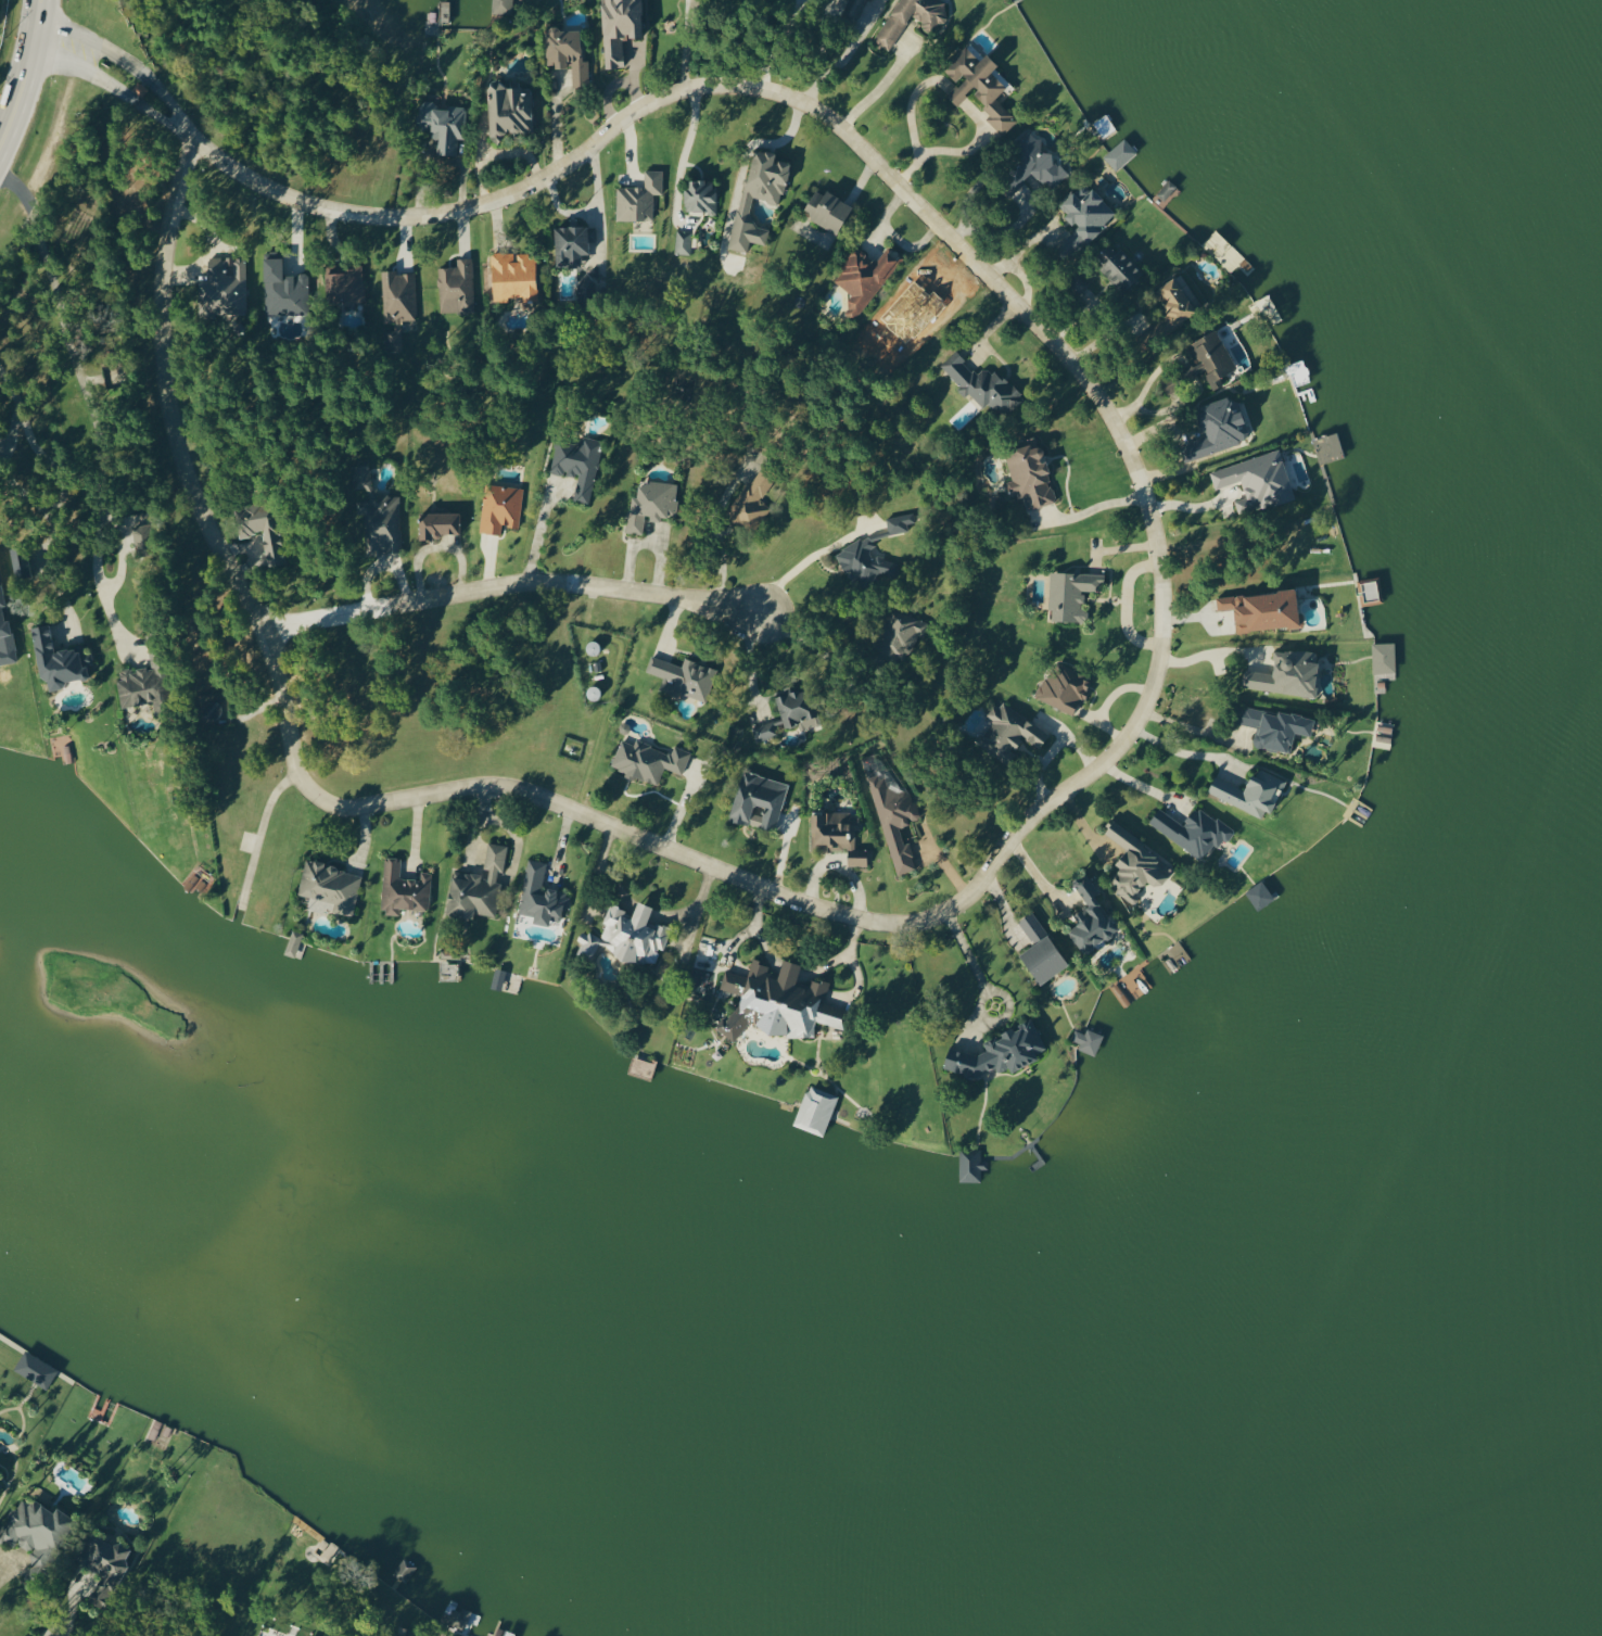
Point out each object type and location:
building: (501, 7)
building: (853, 10)
building: (893, 23)
building: (619, 27)
road: (685, 43)
building: (567, 53)
road: (841, 54)
road: (25, 72)
road: (879, 86)
building: (979, 86)
building: (509, 110)
building: (443, 125)
road: (682, 153)
building: (1120, 153)
building: (1034, 164)
building: (758, 194)
building: (699, 195)
building: (638, 198)
building: (826, 210)
building: (1084, 217)
building: (682, 242)
building: (572, 243)
building: (1119, 266)
building: (512, 275)
building: (864, 277)
building: (344, 282)
building: (1078, 284)
building: (224, 287)
building: (456, 288)
building: (283, 289)
building: (397, 296)
building: (1177, 300)
building: (1203, 363)
building: (981, 384)
road: (82, 394)
building: (1218, 428)
building: (576, 464)
building: (1029, 475)
building: (1257, 481)
road: (53, 498)
building: (752, 498)
building: (651, 504)
road: (1101, 506)
building: (499, 507)
building: (377, 515)
building: (899, 522)
building: (438, 524)
building: (262, 529)
road: (541, 531)
road: (722, 535)
building: (141, 537)
road: (808, 561)
building: (864, 562)
road: (506, 585)
building: (1071, 594)
building: (1262, 610)
building: (899, 634)
building: (5, 641)
building: (1383, 658)
building: (59, 659)
building: (1286, 674)
building: (684, 676)
building: (144, 685)
building: (1064, 688)
road: (1142, 706)
building: (794, 707)
building: (1274, 727)
road: (1185, 730)
building: (763, 731)
building: (1008, 733)
road: (1184, 753)
building: (647, 761)
building: (1250, 792)
building: (758, 801)
building: (892, 815)
building: (1193, 830)
building: (837, 836)
building: (1136, 865)
building: (478, 887)
building: (328, 888)
building: (403, 889)
building: (1259, 896)
building: (541, 897)
building: (1090, 916)
building: (627, 936)
building: (293, 943)
building: (1041, 951)
road: (988, 987)
building: (777, 1003)
building: (999, 1053)
building: (815, 1111)
building: (970, 1166)
building: (35, 1369)
building: (0, 1478)
building: (35, 1531)
building: (103, 1564)
building: (403, 1570)

